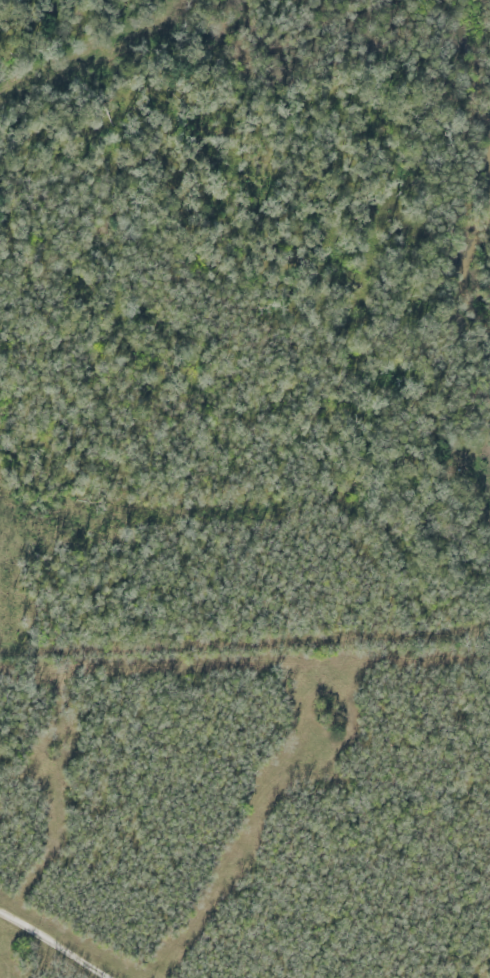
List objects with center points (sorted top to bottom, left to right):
river: (294, 26)
river: (468, 44)
river: (481, 256)
road: (54, 946)

